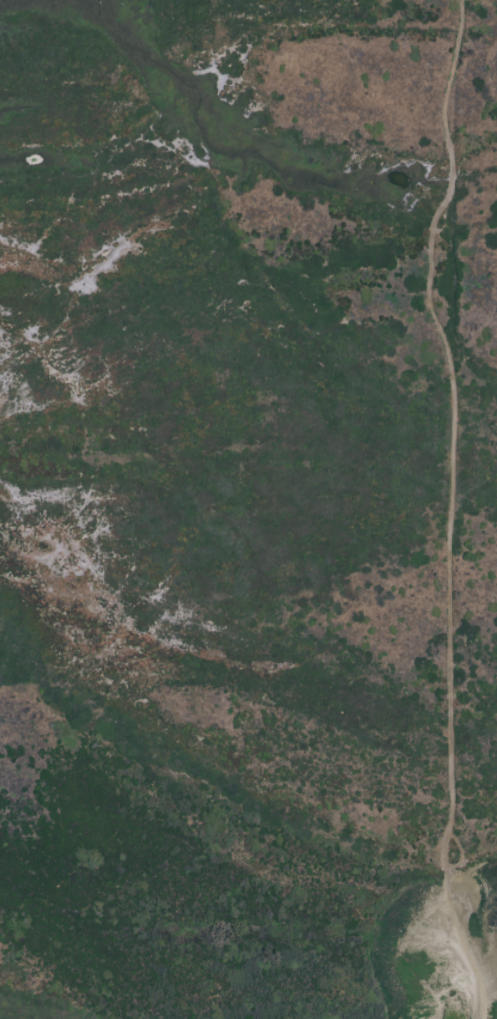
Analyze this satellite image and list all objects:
road: (451, 488)
road: (486, 997)

